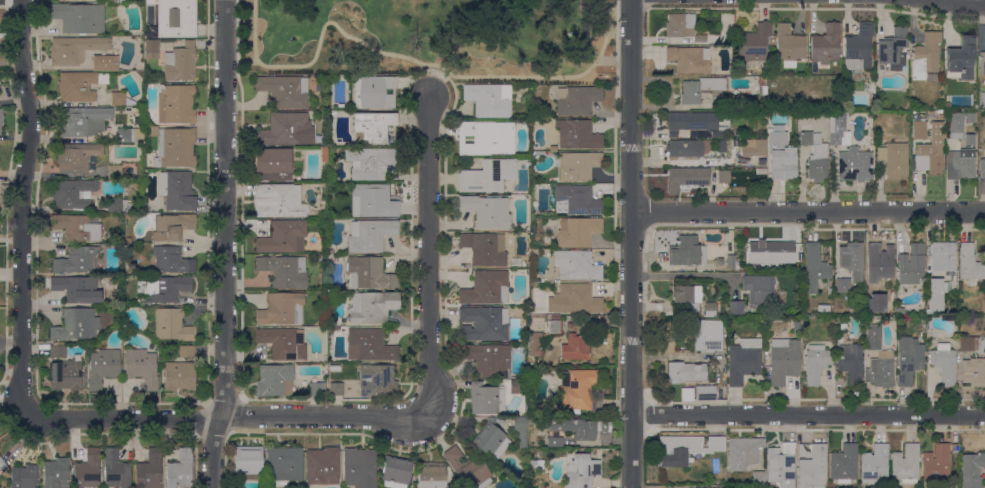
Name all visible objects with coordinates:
building: (65, 0)
building: (111, 1)
road: (955, 3)
building: (79, 18)
building: (176, 18)
building: (682, 27)
park: (430, 38)
building: (729, 40)
building: (753, 43)
building: (825, 44)
building: (788, 45)
building: (858, 48)
building: (892, 48)
building: (74, 49)
building: (151, 49)
road: (237, 53)
building: (907, 54)
building: (925, 57)
road: (616, 58)
road: (412, 59)
road: (606, 59)
building: (689, 59)
building: (960, 59)
building: (180, 62)
building: (103, 63)
road: (246, 63)
building: (982, 63)
road: (435, 83)
building: (871, 85)
building: (78, 86)
building: (762, 86)
building: (699, 89)
building: (284, 91)
building: (373, 92)
building: (733, 97)
building: (121, 100)
building: (488, 100)
building: (577, 100)
building: (176, 104)
road: (244, 106)
building: (938, 115)
building: (970, 117)
building: (838, 119)
building: (1, 120)
building: (82, 121)
building: (694, 123)
building: (955, 125)
building: (373, 126)
building: (286, 130)
building: (878, 130)
building: (919, 130)
building: (577, 134)
building: (130, 135)
building: (485, 138)
building: (838, 138)
building: (969, 139)
building: (721, 146)
building: (175, 148)
building: (686, 148)
building: (754, 148)
building: (930, 151)
building: (781, 154)
building: (323, 155)
building: (815, 156)
building: (76, 157)
building: (894, 158)
building: (370, 162)
building: (273, 164)
building: (578, 165)
building: (854, 165)
building: (959, 165)
building: (982, 166)
building: (116, 172)
building: (487, 176)
building: (721, 176)
building: (686, 179)
road: (653, 181)
building: (177, 191)
building: (72, 193)
building: (577, 200)
building: (278, 201)
building: (373, 201)
building: (116, 205)
road: (20, 207)
building: (486, 211)
road: (808, 212)
building: (76, 227)
building: (172, 227)
building: (577, 231)
building: (370, 235)
building: (282, 238)
road: (631, 243)
road: (225, 244)
building: (485, 248)
building: (686, 251)
building: (799, 251)
building: (769, 252)
road: (428, 254)
building: (942, 256)
building: (172, 260)
building: (852, 260)
building: (76, 261)
building: (719, 261)
building: (731, 262)
building: (877, 263)
building: (969, 263)
building: (524, 264)
building: (911, 264)
building: (576, 265)
building: (799, 265)
building: (814, 268)
building: (284, 271)
building: (368, 273)
road: (680, 274)
building: (843, 285)
building: (485, 288)
building: (166, 289)
building: (758, 289)
building: (73, 290)
building: (937, 293)
building: (686, 294)
building: (573, 299)
building: (371, 307)
building: (709, 307)
building: (736, 307)
building: (691, 308)
building: (282, 309)
building: (823, 309)
building: (899, 311)
building: (555, 317)
building: (948, 318)
building: (859, 319)
building: (869, 319)
building: (482, 324)
building: (73, 325)
building: (171, 325)
building: (555, 327)
building: (707, 335)
building: (874, 337)
building: (283, 343)
building: (536, 343)
building: (970, 343)
building: (369, 346)
building: (574, 348)
building: (58, 352)
building: (187, 352)
building: (488, 359)
building: (908, 359)
building: (743, 360)
building: (783, 360)
building: (850, 362)
building: (815, 363)
building: (944, 363)
building: (103, 367)
building: (141, 368)
building: (880, 370)
building: (686, 372)
building: (973, 372)
building: (67, 376)
building: (179, 376)
building: (274, 381)
building: (377, 381)
building: (516, 387)
building: (316, 389)
building: (336, 389)
building: (579, 390)
building: (705, 393)
building: (687, 394)
building: (485, 398)
road: (808, 414)
road: (225, 416)
building: (576, 427)
building: (520, 431)
building: (491, 440)
building: (554, 440)
building: (685, 449)
building: (529, 452)
building: (743, 453)
building: (248, 462)
building: (2, 463)
building: (844, 463)
building: (936, 463)
building: (535, 464)
building: (874, 464)
building: (905, 464)
building: (283, 465)
building: (781, 465)
building: (322, 466)
building: (359, 468)
building: (812, 468)
building: (468, 469)
building: (971, 469)
building: (87, 470)
building: (115, 470)
building: (150, 470)
building: (180, 470)
building: (582, 470)
building: (396, 472)
building: (55, 473)
building: (431, 475)
building: (24, 476)
building: (758, 478)

